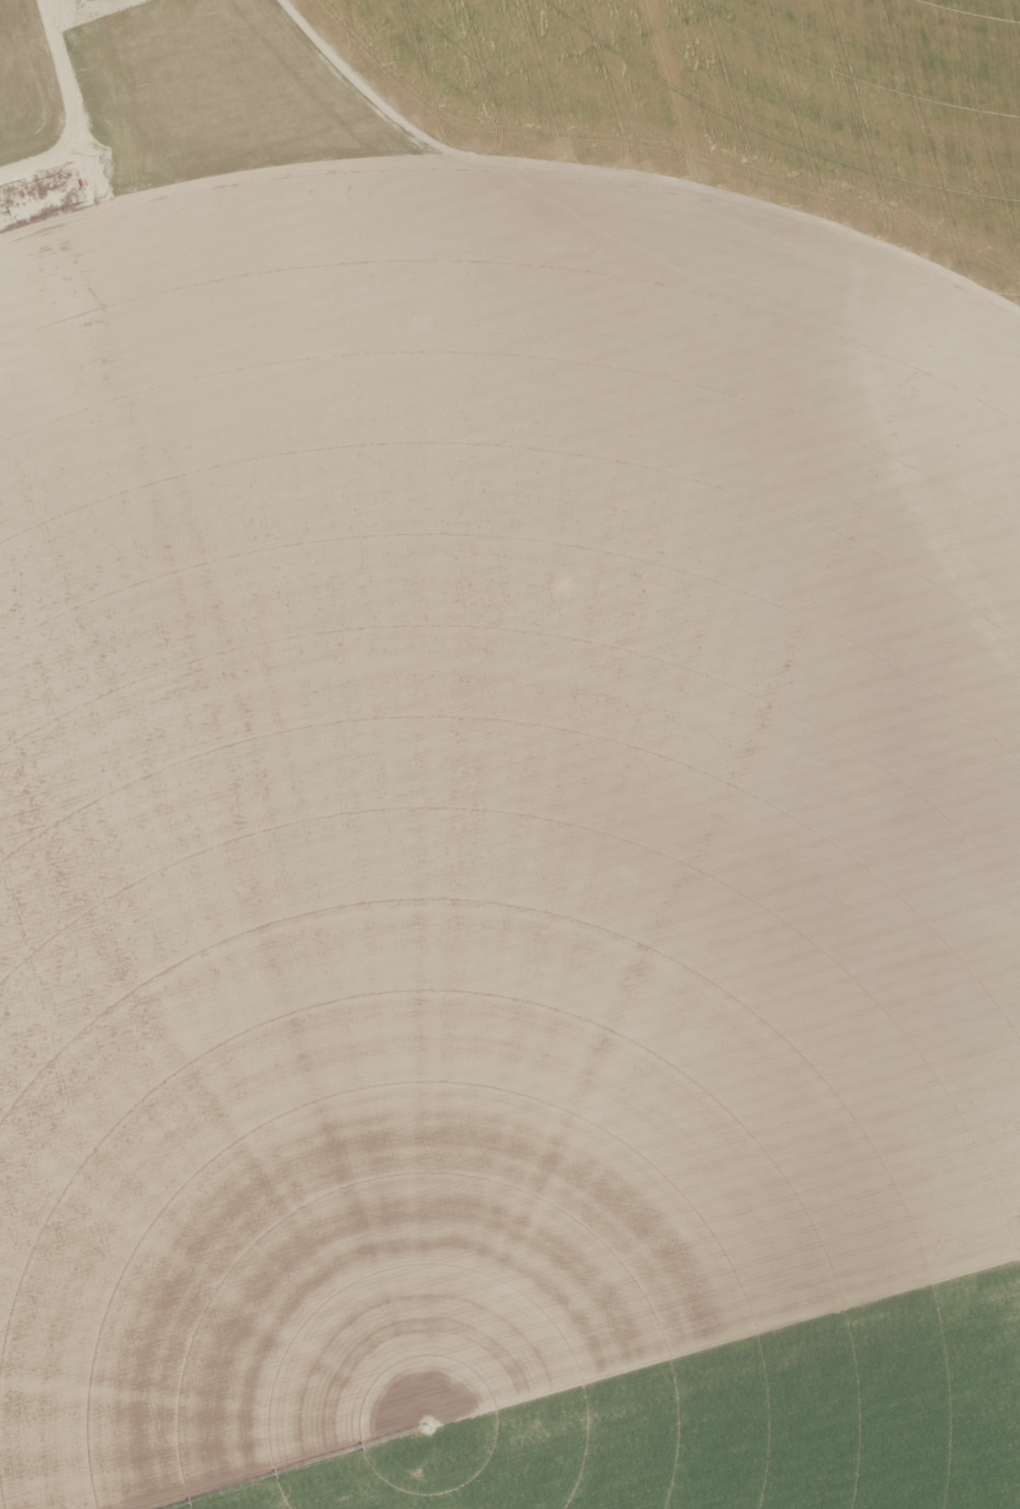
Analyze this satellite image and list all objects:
road: (83, 100)

